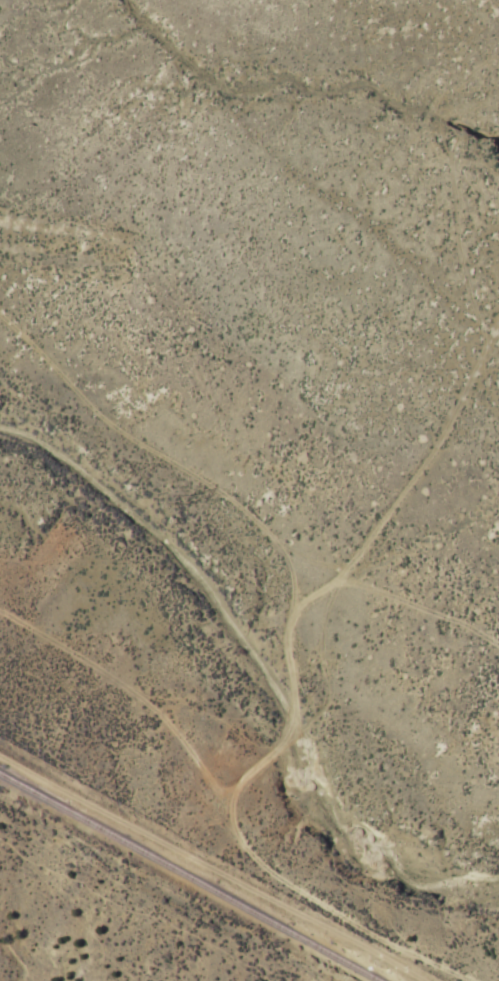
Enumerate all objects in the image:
road: (222, 814)
railway: (189, 878)
road: (493, 970)

